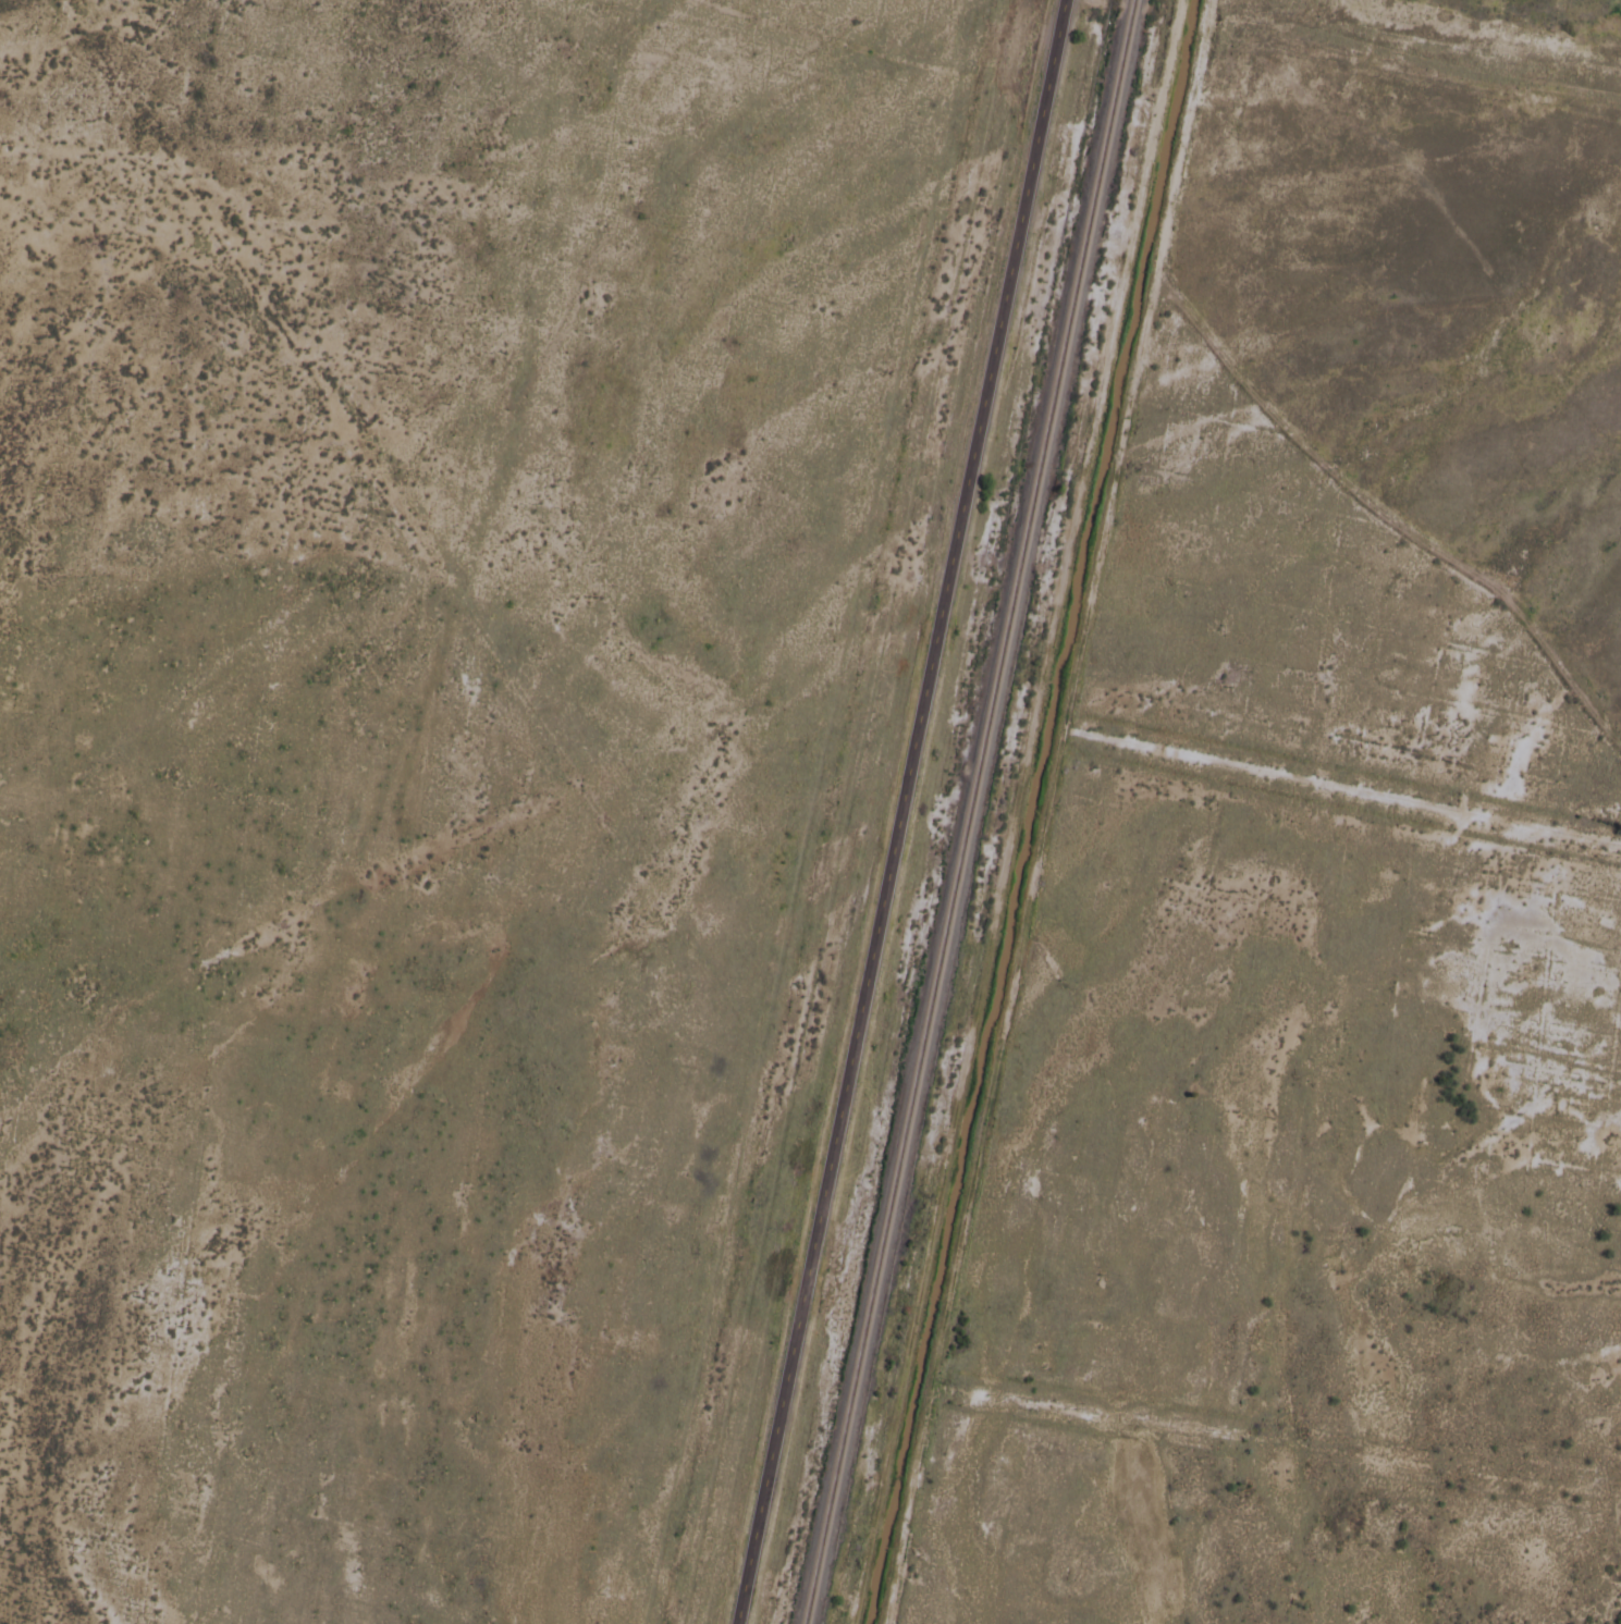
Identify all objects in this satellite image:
road: (1383, 516)
road: (1044, 811)
road: (898, 812)
railway: (966, 812)
road: (1017, 812)

